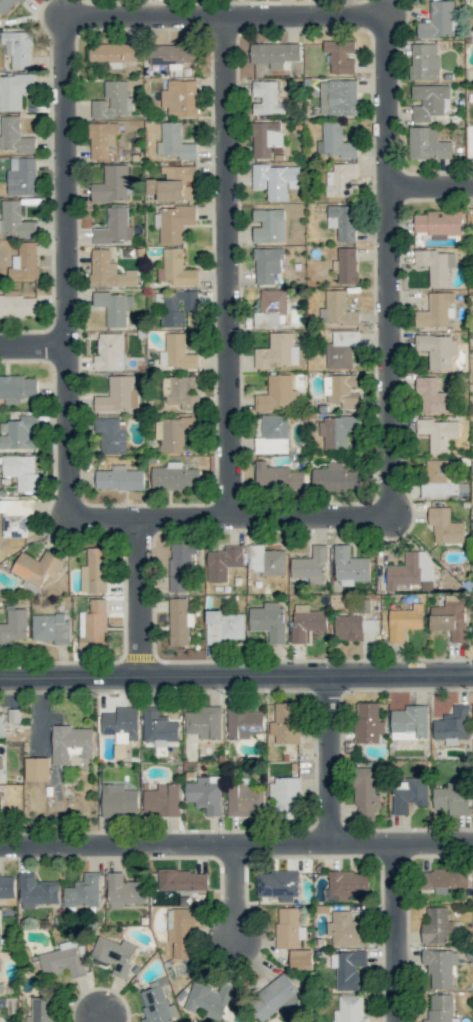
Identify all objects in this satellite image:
building: (7, 5)
building: (437, 20)
road: (223, 22)
building: (472, 30)
building: (18, 48)
building: (113, 52)
building: (171, 54)
building: (275, 54)
building: (340, 56)
building: (424, 61)
building: (14, 91)
building: (338, 97)
building: (180, 98)
building: (266, 98)
building: (113, 101)
building: (430, 101)
building: (14, 135)
building: (102, 139)
building: (267, 139)
building: (335, 141)
building: (174, 142)
building: (428, 144)
building: (22, 176)
building: (275, 180)
building: (342, 180)
building: (173, 183)
building: (113, 184)
road: (430, 188)
building: (14, 220)
building: (342, 221)
building: (174, 222)
building: (439, 223)
building: (269, 225)
building: (115, 227)
building: (25, 261)
building: (267, 264)
building: (347, 265)
building: (436, 265)
building: (175, 268)
road: (389, 269)
building: (108, 271)
road: (228, 271)
road: (65, 272)
building: (17, 305)
building: (176, 306)
building: (114, 307)
building: (271, 308)
building: (337, 309)
building: (435, 310)
building: (342, 349)
building: (437, 350)
road: (33, 351)
building: (278, 351)
building: (110, 352)
building: (176, 352)
building: (17, 388)
building: (342, 390)
building: (180, 391)
building: (277, 394)
building: (118, 395)
building: (433, 397)
building: (337, 430)
building: (174, 432)
building: (19, 433)
building: (438, 433)
building: (111, 435)
building: (273, 435)
building: (22, 472)
building: (174, 477)
building: (277, 477)
building: (335, 477)
building: (119, 478)
building: (438, 479)
building: (15, 517)
road: (231, 520)
building: (445, 526)
building: (266, 560)
building: (223, 562)
building: (311, 565)
building: (181, 566)
building: (37, 567)
building: (350, 567)
building: (410, 569)
building: (94, 571)
road: (142, 599)
building: (450, 619)
building: (269, 620)
building: (179, 621)
building: (404, 621)
building: (306, 622)
building: (93, 624)
building: (14, 626)
building: (224, 626)
building: (354, 627)
building: (51, 628)
road: (236, 676)
building: (204, 722)
building: (243, 722)
building: (368, 722)
building: (410, 722)
building: (121, 723)
building: (285, 723)
building: (1, 724)
building: (453, 725)
building: (158, 726)
building: (71, 743)
road: (332, 759)
building: (0, 762)
building: (37, 769)
building: (365, 792)
building: (205, 793)
building: (409, 794)
building: (285, 797)
building: (452, 798)
building: (119, 799)
building: (244, 799)
building: (162, 800)
road: (236, 843)
building: (446, 879)
building: (183, 880)
building: (348, 884)
building: (7, 885)
building: (277, 885)
building: (37, 891)
building: (83, 891)
building: (124, 891)
road: (239, 891)
building: (436, 925)
building: (289, 928)
building: (345, 930)
building: (181, 931)
road: (399, 931)
building: (0, 940)
building: (114, 954)
building: (63, 959)
building: (301, 959)
building: (0, 963)
building: (440, 967)
building: (348, 968)
building: (1, 988)
building: (275, 996)
building: (212, 999)
building: (157, 1005)
building: (440, 1008)
building: (42, 1010)
building: (349, 1010)
road: (104, 1018)

